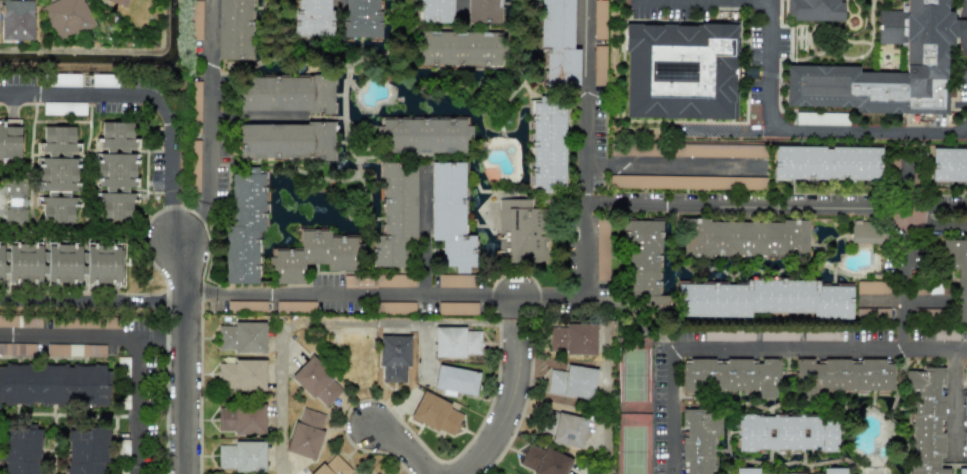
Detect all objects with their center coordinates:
road: (727, 1)
building: (118, 2)
road: (338, 3)
road: (460, 3)
building: (814, 10)
building: (435, 11)
building: (482, 11)
building: (66, 17)
building: (312, 18)
building: (361, 19)
building: (599, 19)
building: (17, 20)
building: (195, 20)
road: (965, 21)
building: (233, 30)
building: (558, 43)
building: (460, 48)
building: (924, 54)
building: (599, 65)
building: (680, 71)
building: (65, 79)
building: (287, 94)
road: (122, 98)
road: (255, 118)
building: (821, 118)
road: (207, 123)
road: (807, 128)
building: (423, 134)
building: (9, 141)
building: (285, 141)
building: (547, 146)
building: (720, 150)
road: (671, 163)
building: (826, 163)
building: (948, 165)
building: (194, 166)
building: (115, 170)
building: (57, 175)
building: (687, 181)
road: (909, 182)
building: (16, 200)
road: (776, 208)
road: (170, 211)
building: (395, 215)
building: (449, 215)
building: (244, 224)
building: (522, 231)
building: (864, 232)
road: (421, 234)
building: (744, 238)
building: (601, 249)
building: (313, 255)
building: (62, 263)
building: (643, 263)
building: (957, 274)
road: (902, 278)
building: (378, 280)
building: (457, 280)
building: (872, 287)
road: (533, 294)
road: (165, 295)
road: (72, 298)
building: (763, 299)
road: (515, 305)
building: (246, 306)
building: (294, 306)
building: (394, 307)
building: (457, 308)
building: (871, 313)
road: (515, 318)
building: (19, 321)
road: (632, 322)
building: (109, 323)
road: (339, 323)
building: (945, 334)
building: (965, 334)
road: (69, 335)
road: (167, 335)
building: (777, 335)
road: (143, 337)
building: (241, 337)
building: (574, 338)
building: (456, 342)
road: (758, 346)
building: (17, 348)
road: (290, 348)
building: (75, 350)
building: (393, 351)
road: (186, 353)
building: (241, 374)
building: (730, 376)
building: (843, 376)
building: (455, 380)
building: (572, 381)
building: (316, 382)
building: (54, 385)
building: (964, 390)
road: (952, 399)
road: (607, 401)
road: (512, 403)
road: (137, 405)
park: (634, 405)
building: (436, 414)
building: (241, 419)
building: (925, 422)
building: (565, 429)
building: (306, 433)
building: (786, 433)
building: (698, 440)
road: (407, 446)
building: (21, 449)
building: (86, 450)
building: (241, 456)
building: (964, 456)
building: (543, 461)
building: (332, 466)
building: (746, 471)
building: (832, 471)
building: (375, 472)
road: (605, 472)

